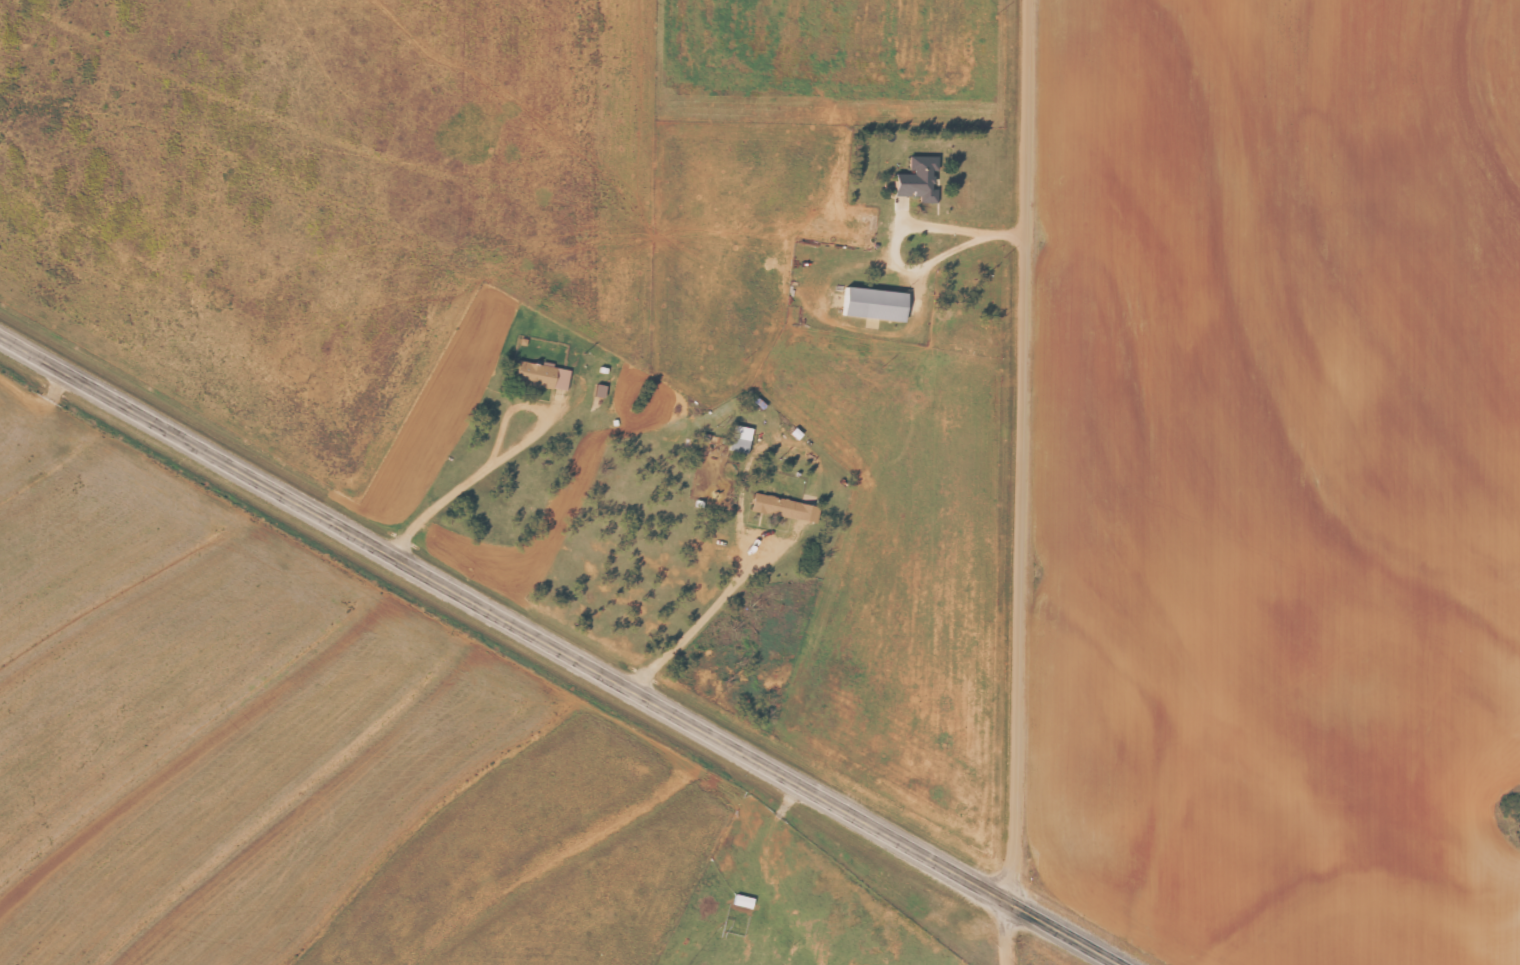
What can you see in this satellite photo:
building: (919, 178)
building: (876, 303)
building: (543, 374)
building: (741, 438)
road: (1023, 451)
building: (786, 507)
road: (561, 650)
building: (744, 901)
road: (1330, 912)
road: (1011, 934)

